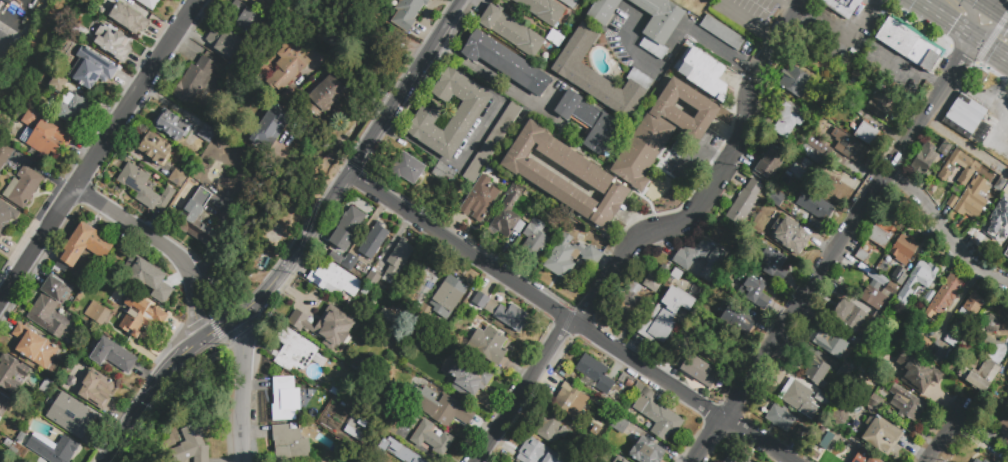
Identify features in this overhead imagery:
building: (507, 0)
building: (437, 2)
building: (259, 3)
building: (569, 3)
road: (922, 3)
road: (927, 3)
building: (149, 4)
road: (790, 4)
road: (995, 4)
building: (413, 5)
building: (841, 7)
road: (993, 9)
building: (543, 10)
building: (602, 10)
building: (691, 16)
road: (971, 18)
road: (950, 21)
building: (134, 22)
building: (249, 22)
road: (448, 22)
building: (657, 23)
road: (749, 23)
road: (988, 25)
building: (303, 28)
building: (512, 31)
road: (996, 31)
building: (722, 32)
road: (844, 36)
building: (555, 38)
building: (329, 39)
building: (114, 44)
building: (226, 44)
building: (908, 45)
road: (990, 47)
road: (674, 53)
building: (855, 56)
building: (505, 63)
building: (290, 67)
building: (91, 69)
building: (243, 69)
road: (912, 69)
road: (476, 70)
building: (704, 74)
road: (946, 75)
building: (599, 76)
building: (980, 79)
road: (408, 81)
building: (795, 81)
building: (55, 82)
building: (196, 83)
building: (830, 91)
road: (982, 96)
building: (325, 99)
building: (879, 106)
building: (72, 109)
building: (469, 113)
building: (964, 115)
building: (32, 117)
building: (790, 120)
building: (591, 122)
building: (173, 127)
building: (820, 127)
building: (272, 130)
building: (662, 131)
building: (866, 133)
building: (207, 135)
building: (48, 139)
building: (493, 145)
building: (818, 145)
road: (965, 145)
building: (850, 147)
building: (945, 148)
road: (698, 149)
building: (155, 150)
road: (99, 155)
building: (5, 156)
building: (924, 158)
road: (594, 159)
building: (769, 163)
building: (805, 163)
building: (971, 166)
building: (408, 171)
building: (444, 174)
building: (536, 175)
building: (179, 179)
road: (714, 183)
building: (999, 185)
building: (143, 188)
building: (24, 189)
building: (955, 189)
building: (776, 198)
building: (972, 199)
building: (480, 202)
building: (744, 202)
building: (951, 202)
building: (814, 205)
building: (786, 207)
road: (290, 209)
building: (509, 212)
building: (6, 218)
building: (998, 218)
building: (198, 221)
road: (309, 226)
road: (949, 226)
building: (348, 233)
building: (881, 234)
building: (790, 235)
building: (535, 237)
building: (375, 243)
road: (164, 245)
building: (83, 248)
building: (1007, 248)
building: (904, 249)
building: (862, 255)
building: (570, 257)
building: (701, 257)
building: (400, 259)
building: (769, 263)
building: (350, 265)
road: (824, 268)
building: (676, 274)
building: (878, 277)
building: (920, 277)
building: (900, 278)
building: (148, 280)
building: (336, 281)
building: (653, 282)
building: (376, 283)
building: (424, 289)
building: (754, 290)
building: (945, 294)
building: (448, 296)
building: (877, 296)
building: (927, 296)
building: (629, 302)
building: (51, 305)
building: (972, 305)
building: (502, 312)
building: (96, 314)
building: (664, 315)
building: (140, 316)
building: (854, 317)
road: (568, 318)
building: (737, 320)
building: (384, 322)
building: (878, 322)
building: (990, 323)
building: (327, 327)
road: (217, 328)
building: (953, 339)
building: (829, 343)
building: (488, 345)
building: (861, 346)
building: (922, 346)
building: (35, 349)
building: (718, 350)
building: (295, 353)
building: (112, 357)
building: (356, 363)
building: (697, 369)
building: (473, 370)
building: (815, 370)
building: (1007, 370)
building: (435, 371)
building: (594, 374)
building: (844, 374)
building: (980, 375)
building: (11, 376)
building: (899, 377)
building: (930, 377)
building: (466, 378)
building: (552, 384)
building: (91, 387)
road: (243, 387)
road: (521, 390)
road: (149, 391)
building: (333, 392)
building: (0, 393)
building: (795, 394)
building: (0, 396)
building: (824, 400)
building: (286, 401)
building: (570, 401)
building: (875, 401)
building: (908, 404)
building: (0, 408)
building: (442, 409)
building: (656, 414)
building: (71, 415)
building: (778, 415)
building: (840, 416)
building: (0, 418)
building: (413, 422)
building: (620, 425)
building: (551, 427)
building: (1004, 428)
building: (880, 434)
building: (802, 435)
road: (940, 436)
road: (706, 439)
building: (432, 440)
building: (826, 441)
building: (192, 446)
building: (291, 446)
building: (53, 450)
building: (398, 451)
building: (646, 451)
building: (536, 452)
building: (864, 456)
building: (735, 458)
building: (594, 459)
building: (619, 460)
building: (975, 460)
building: (984, 461)
building: (996, 461)

